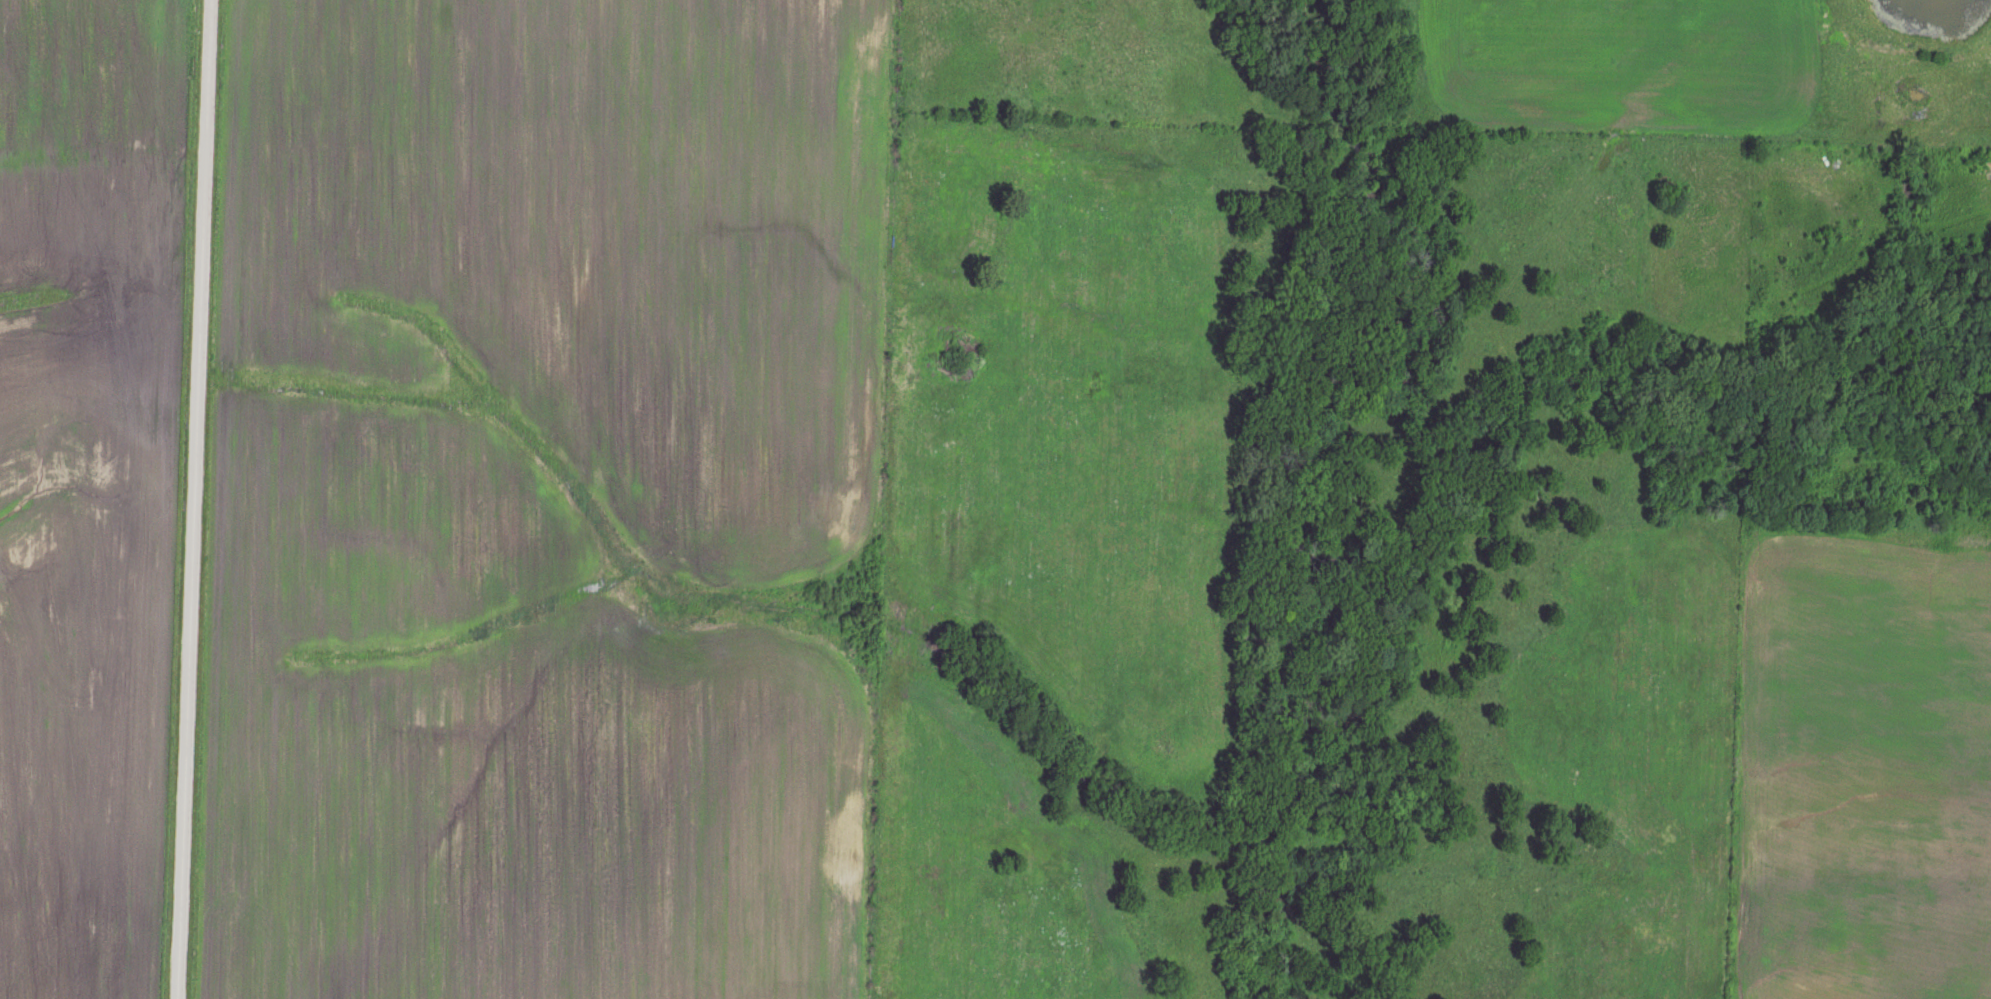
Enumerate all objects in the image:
building: (1986, 168)
road: (194, 499)

